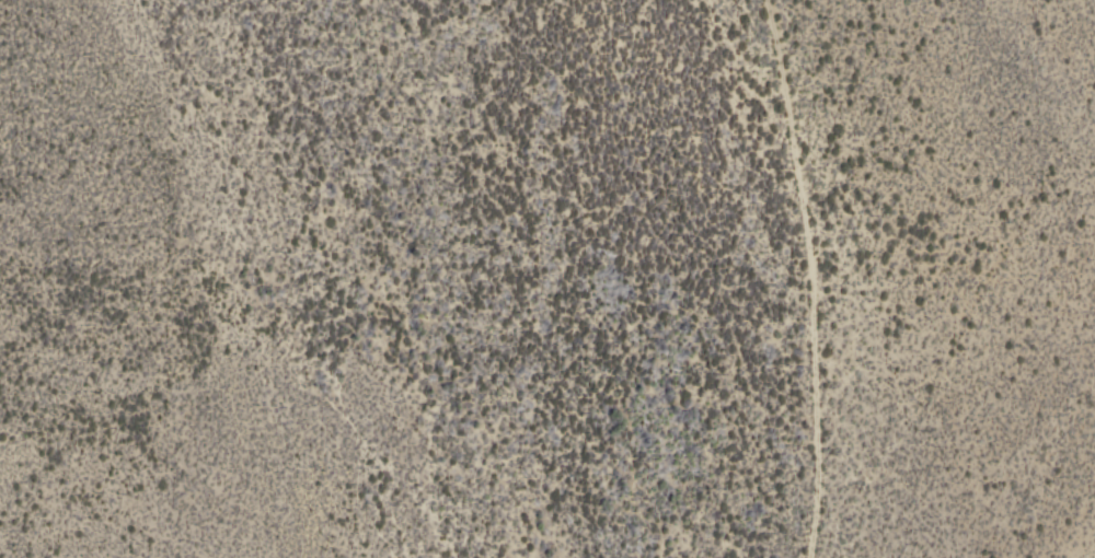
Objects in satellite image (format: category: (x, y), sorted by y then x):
road: (807, 277)

